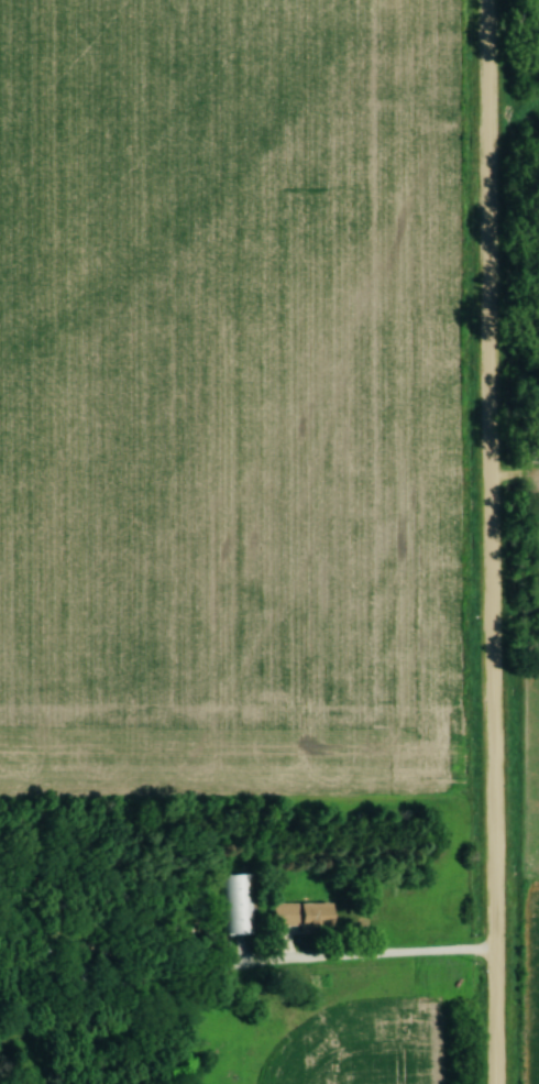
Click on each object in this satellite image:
road: (490, 541)
building: (240, 906)
building: (301, 918)
road: (366, 961)

